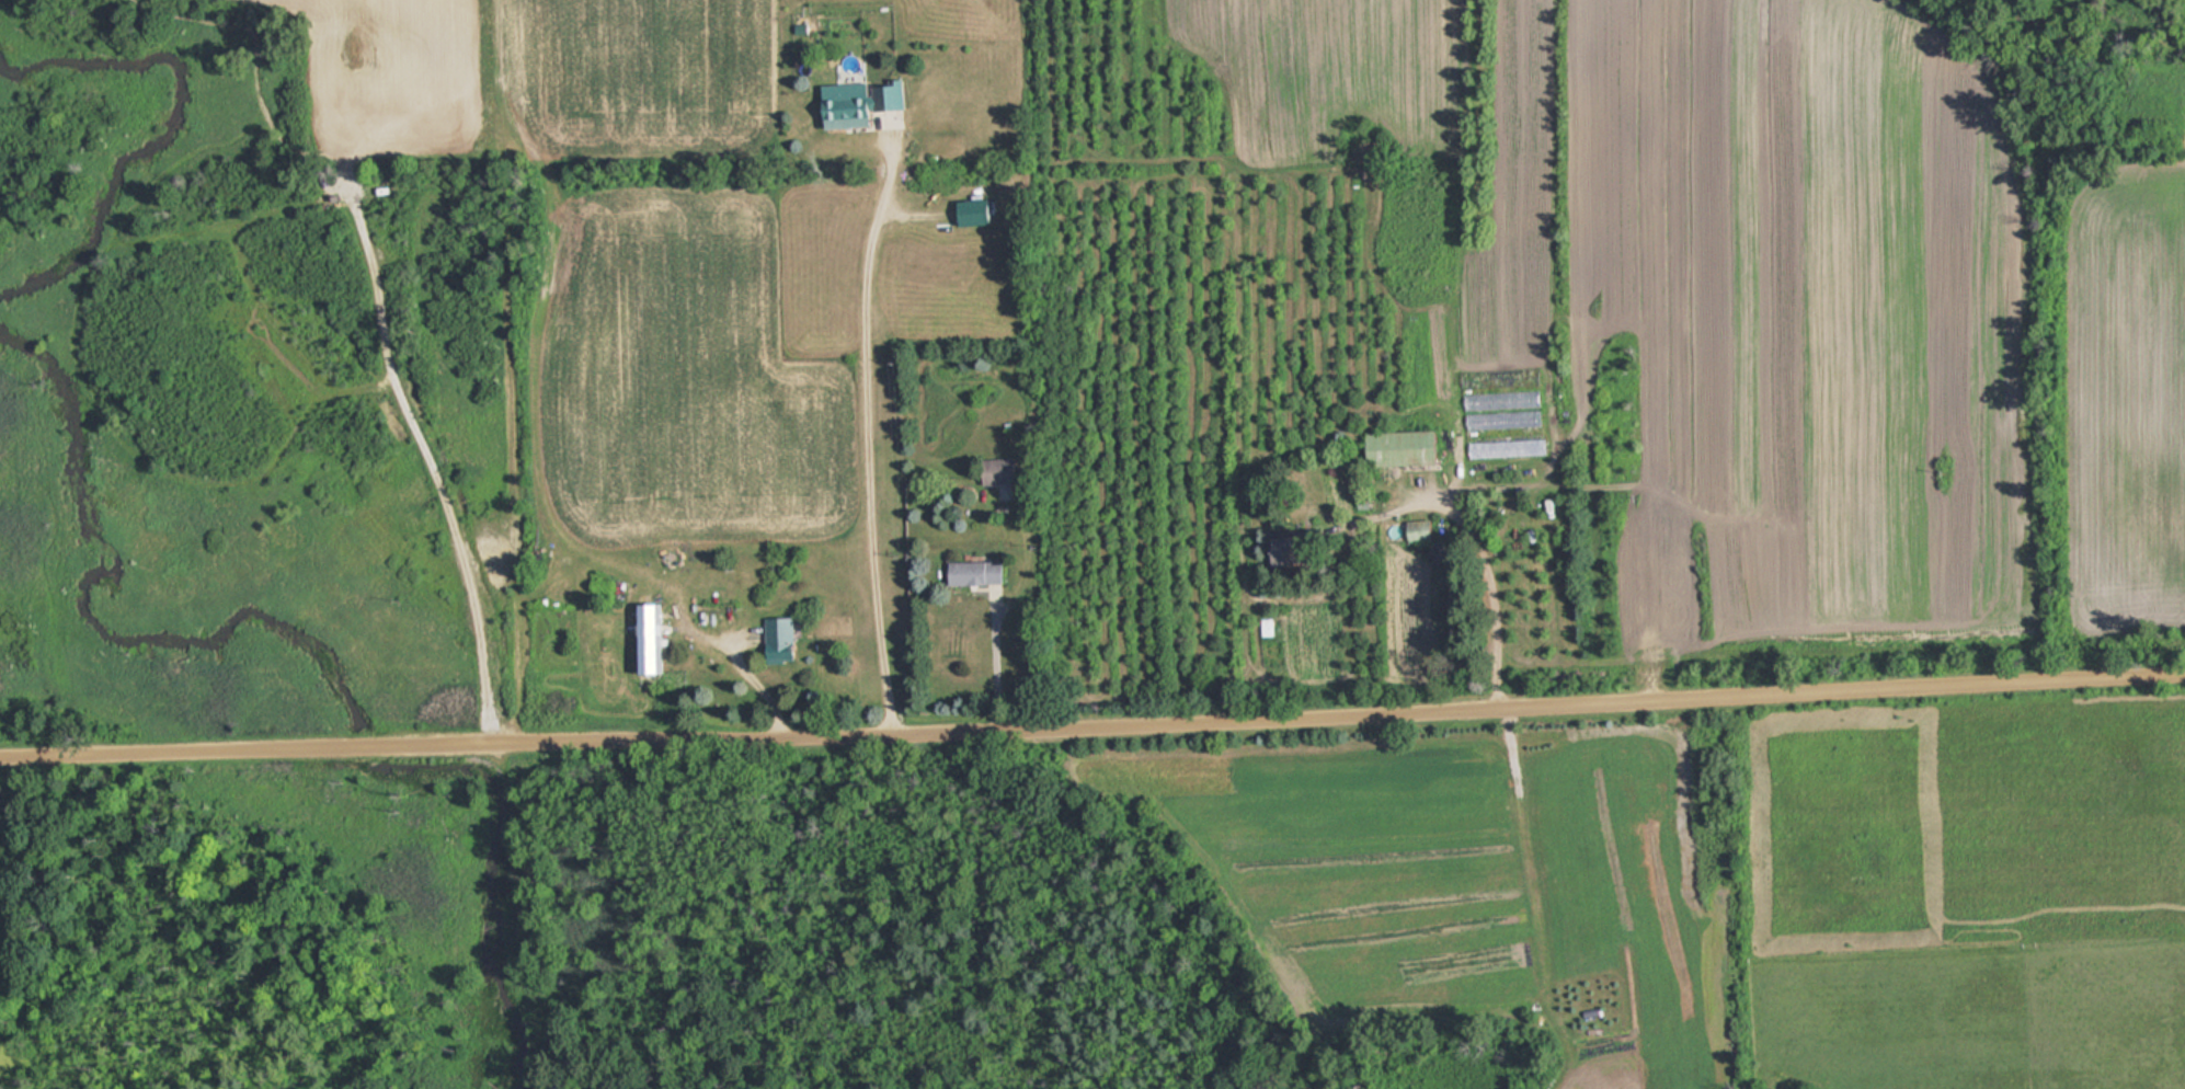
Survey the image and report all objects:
building: (848, 105)
building: (1418, 372)
building: (1499, 401)
building: (1500, 421)
road: (865, 445)
building: (1394, 448)
building: (1503, 448)
building: (992, 470)
building: (1410, 529)
building: (969, 572)
building: (717, 612)
building: (1262, 629)
building: (644, 637)
building: (774, 640)
road: (1092, 720)

